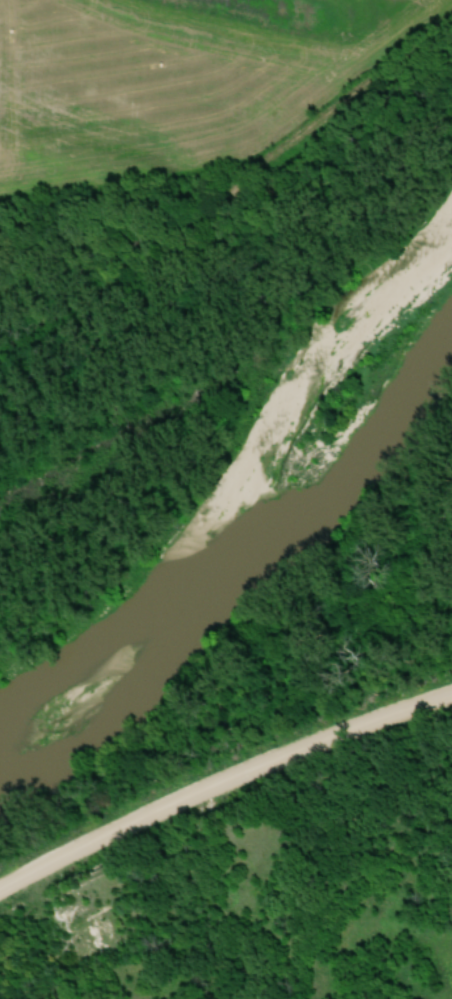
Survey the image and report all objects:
river: (246, 559)
road: (221, 784)

